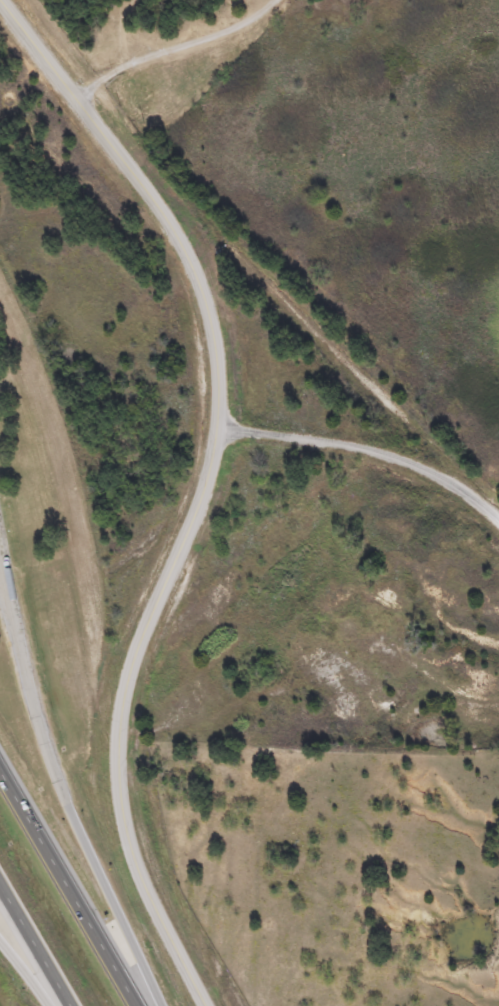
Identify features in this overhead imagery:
road: (172, 47)
road: (369, 450)
road: (202, 487)
parking lot: (6, 564)
road: (3, 580)
road: (70, 806)
road: (69, 885)
road: (36, 943)
road: (27, 970)

